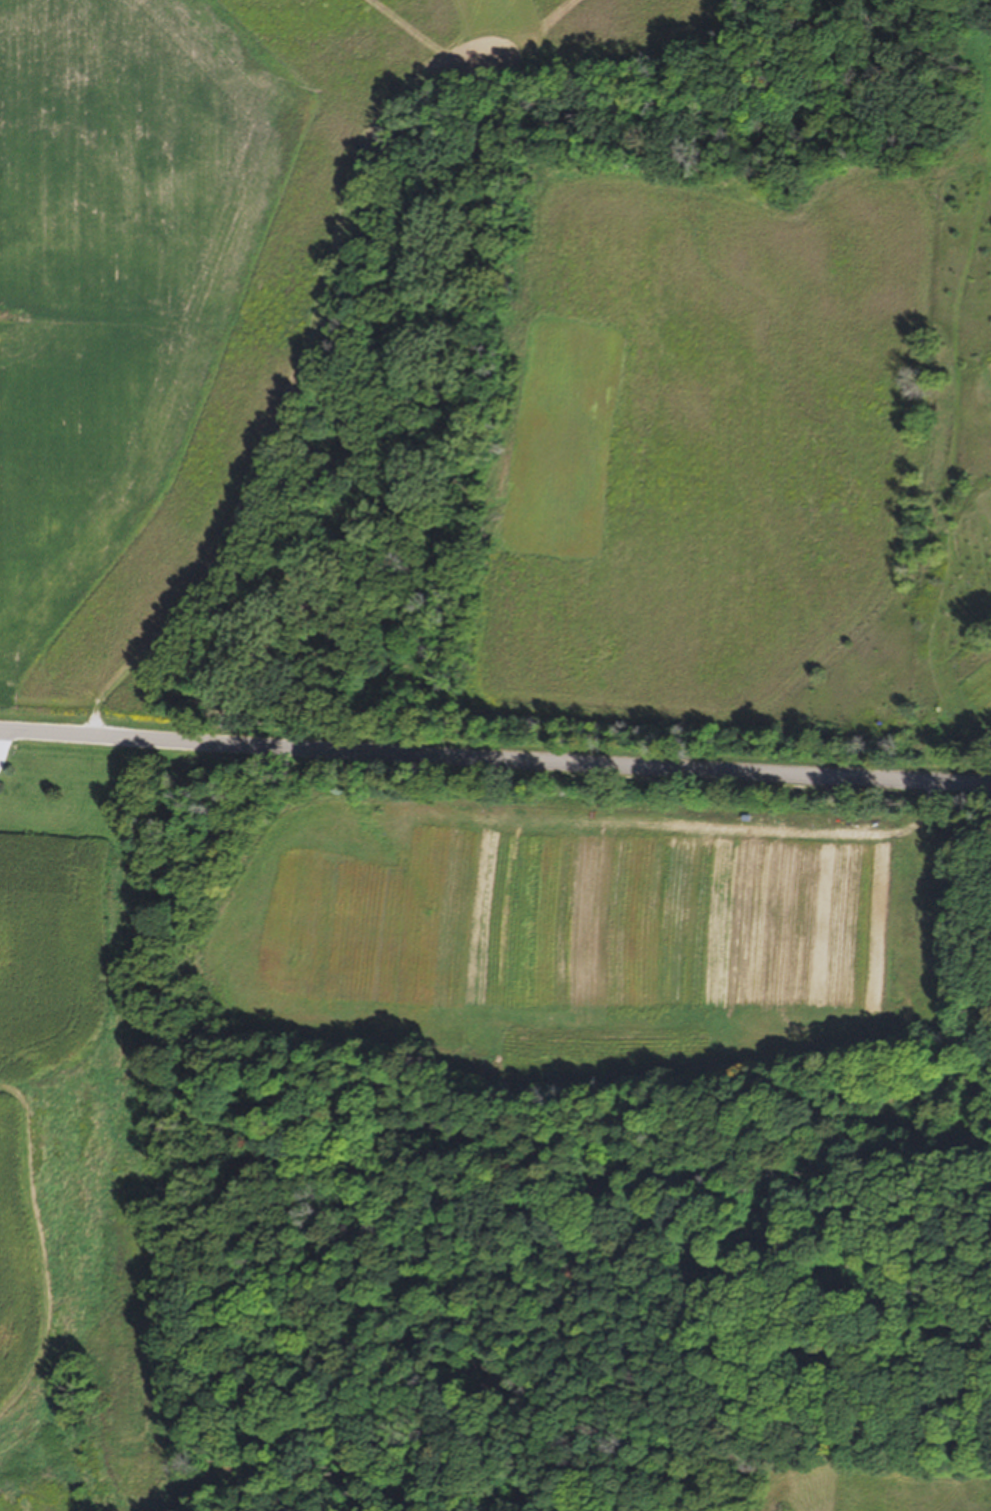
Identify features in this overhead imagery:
road: (0, 733)
road: (495, 752)

